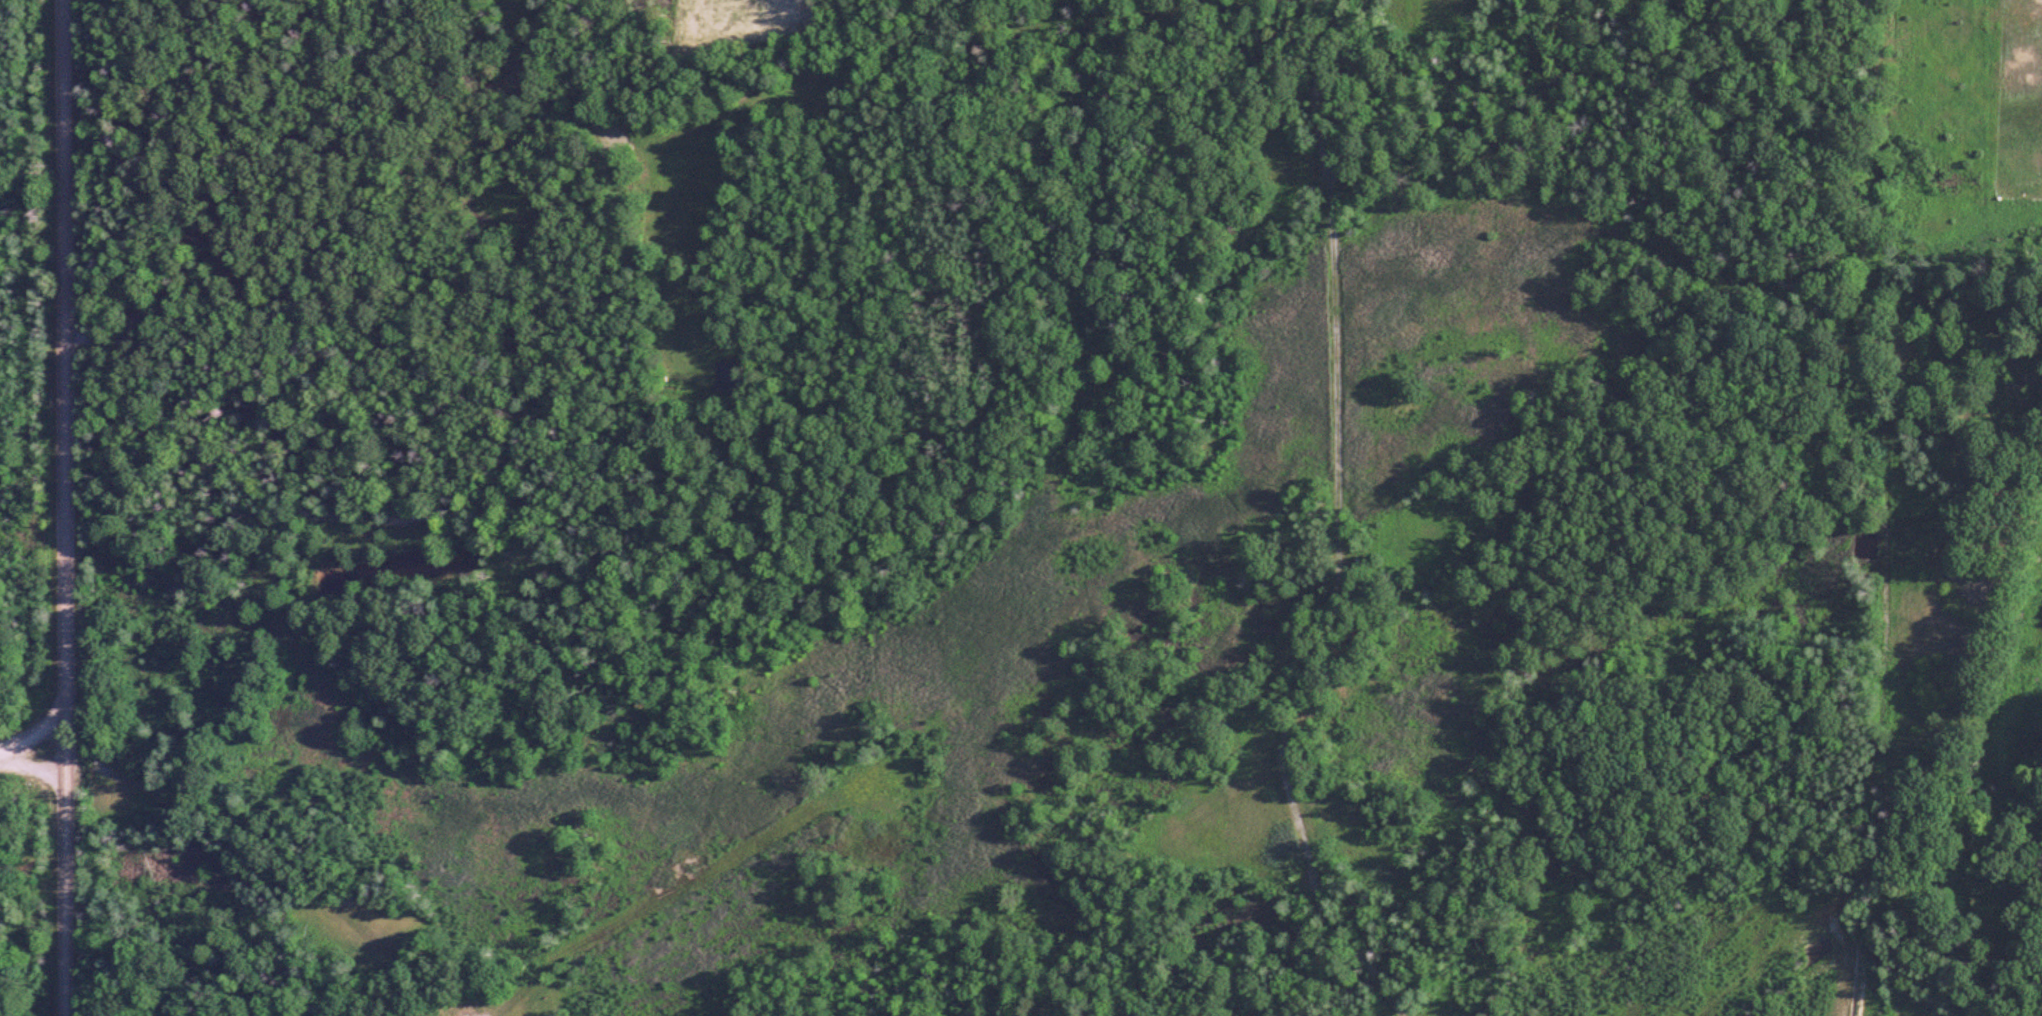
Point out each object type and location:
road: (64, 507)
road: (36, 729)

